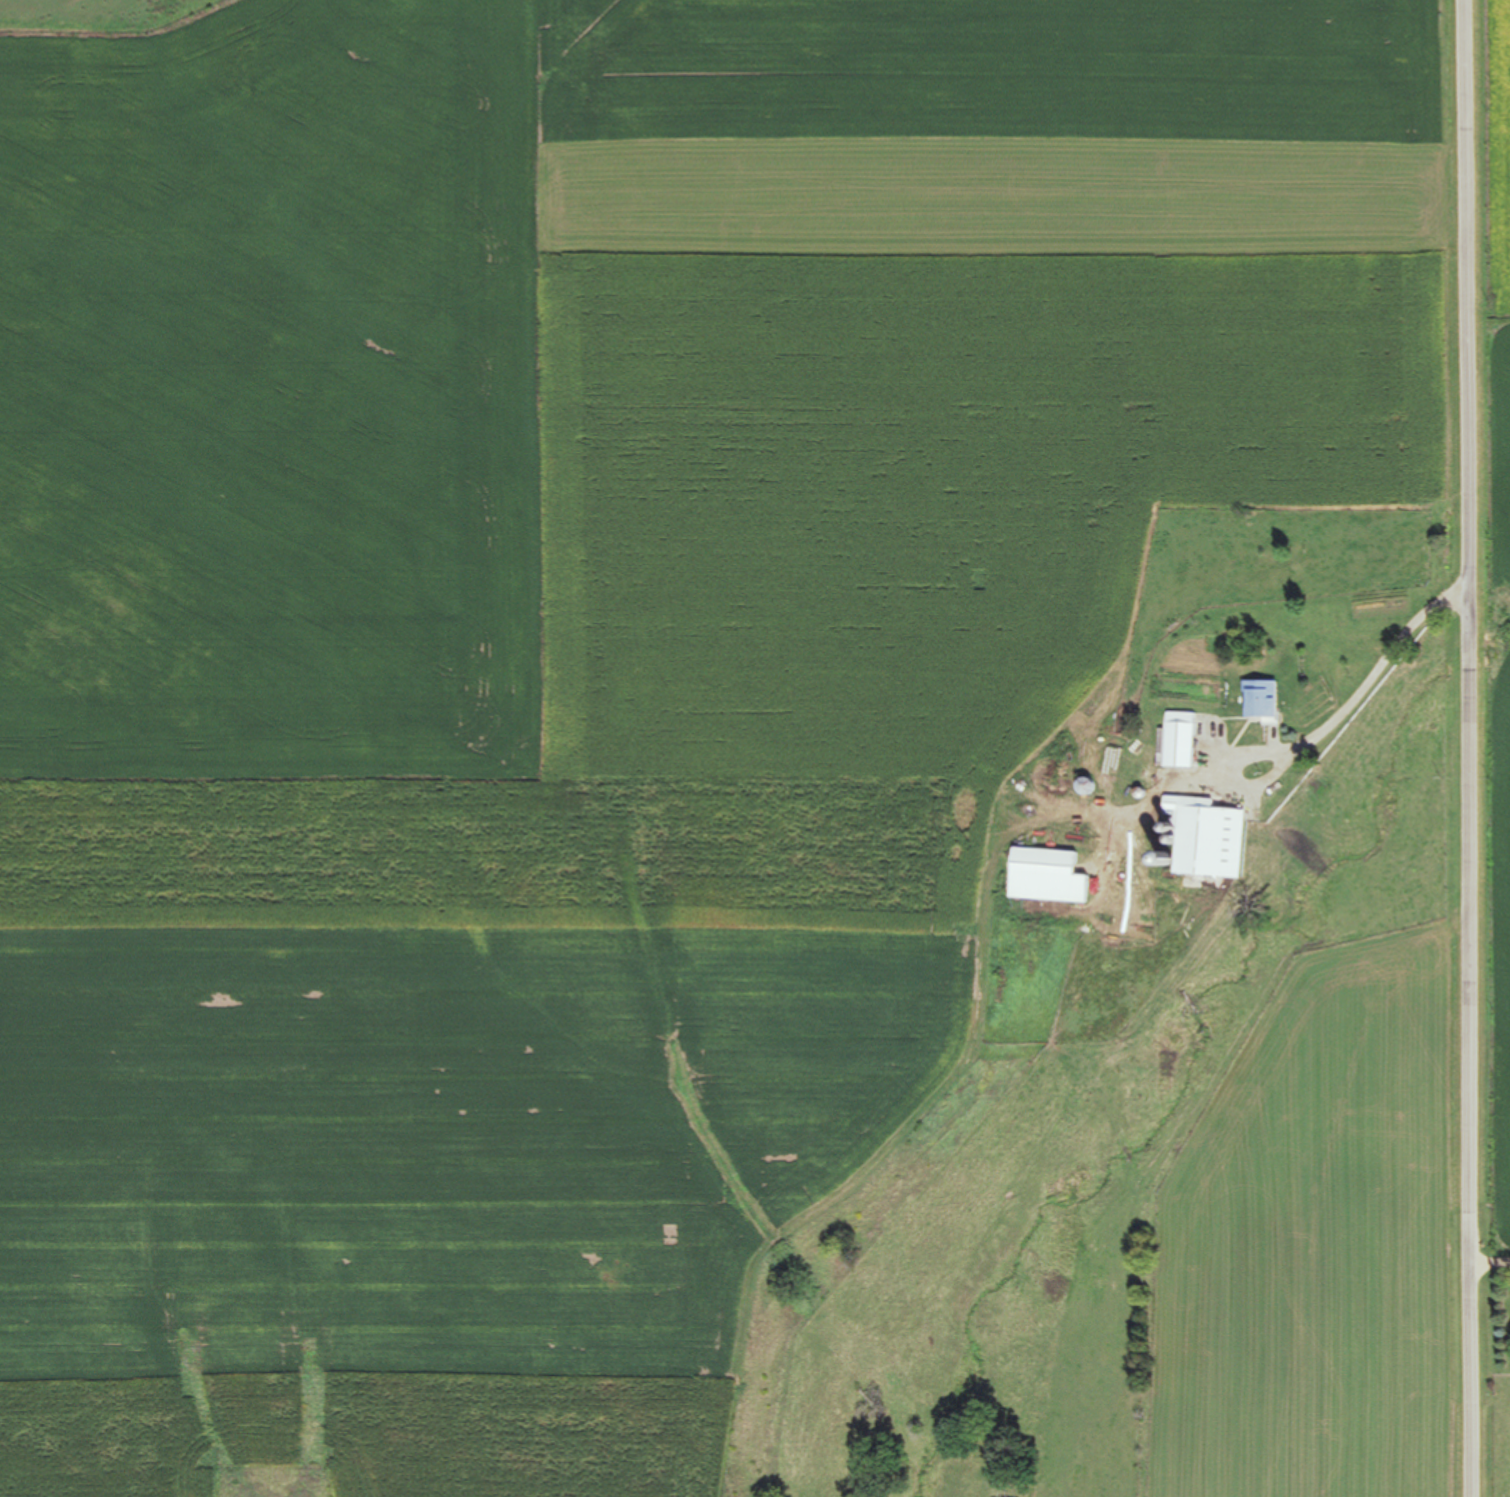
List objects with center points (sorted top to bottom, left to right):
building: (1266, 702)
building: (1185, 741)
road: (1468, 748)
building: (1114, 778)
building: (1210, 837)
building: (1052, 876)
road: (1490, 1263)

